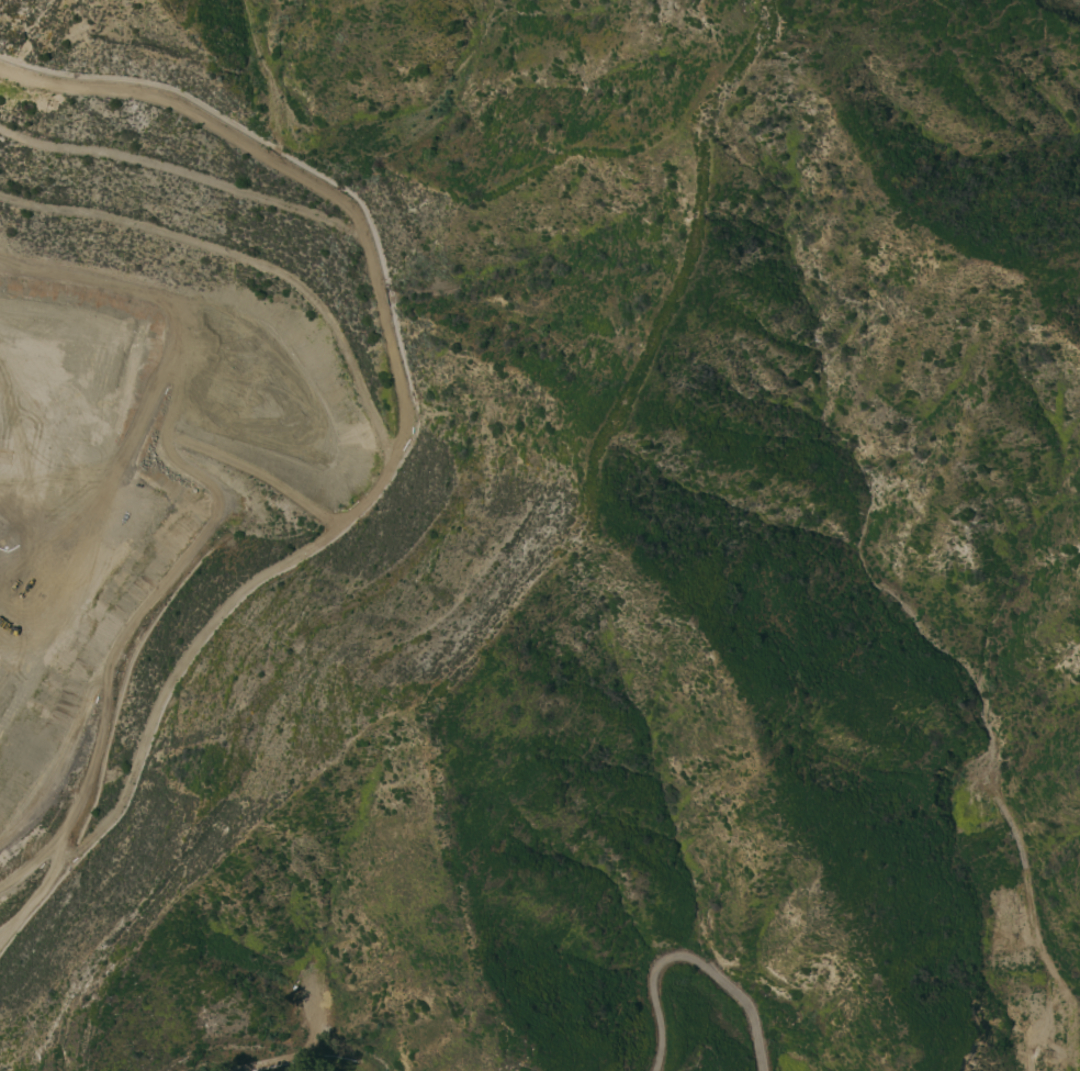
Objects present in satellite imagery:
road: (854, 2)
road: (1022, 20)
landfill: (159, 420)
road: (685, 962)

